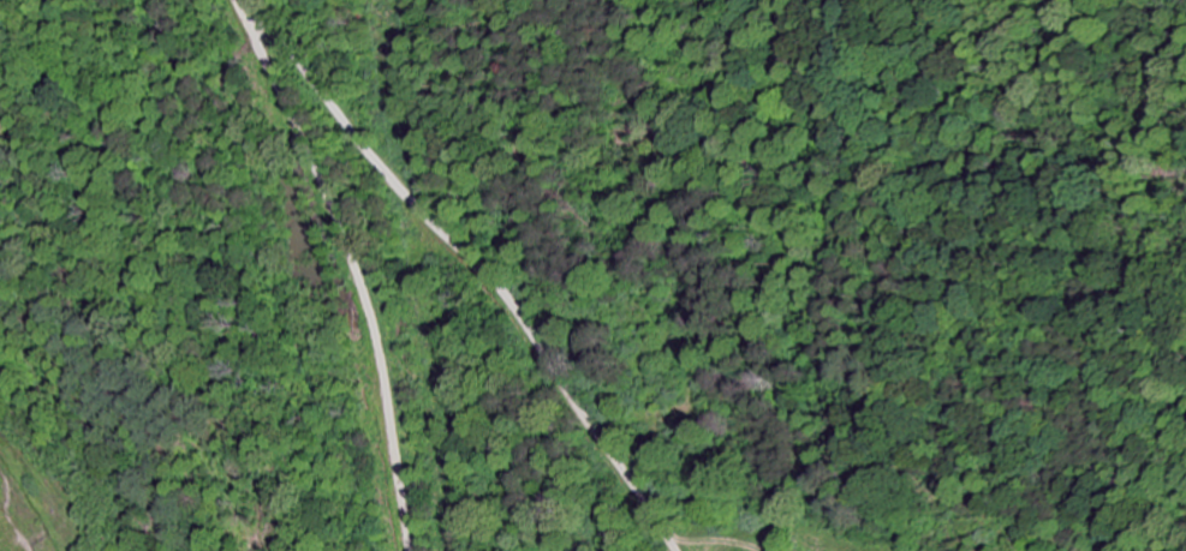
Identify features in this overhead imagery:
road: (478, 264)

